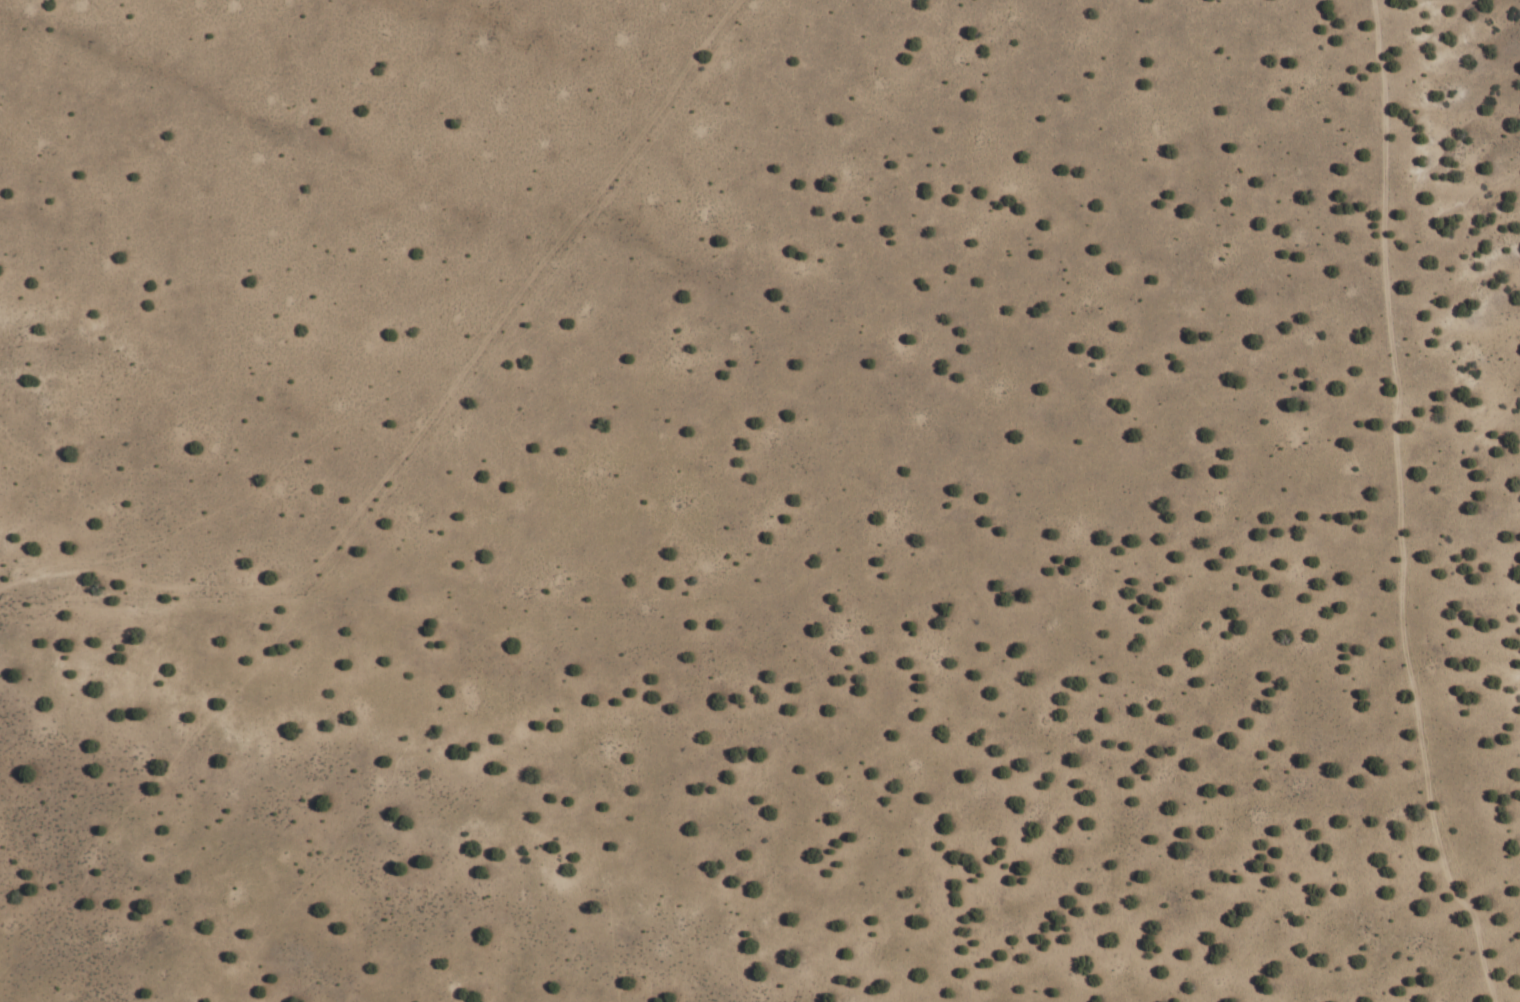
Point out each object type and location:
road: (1368, 512)

